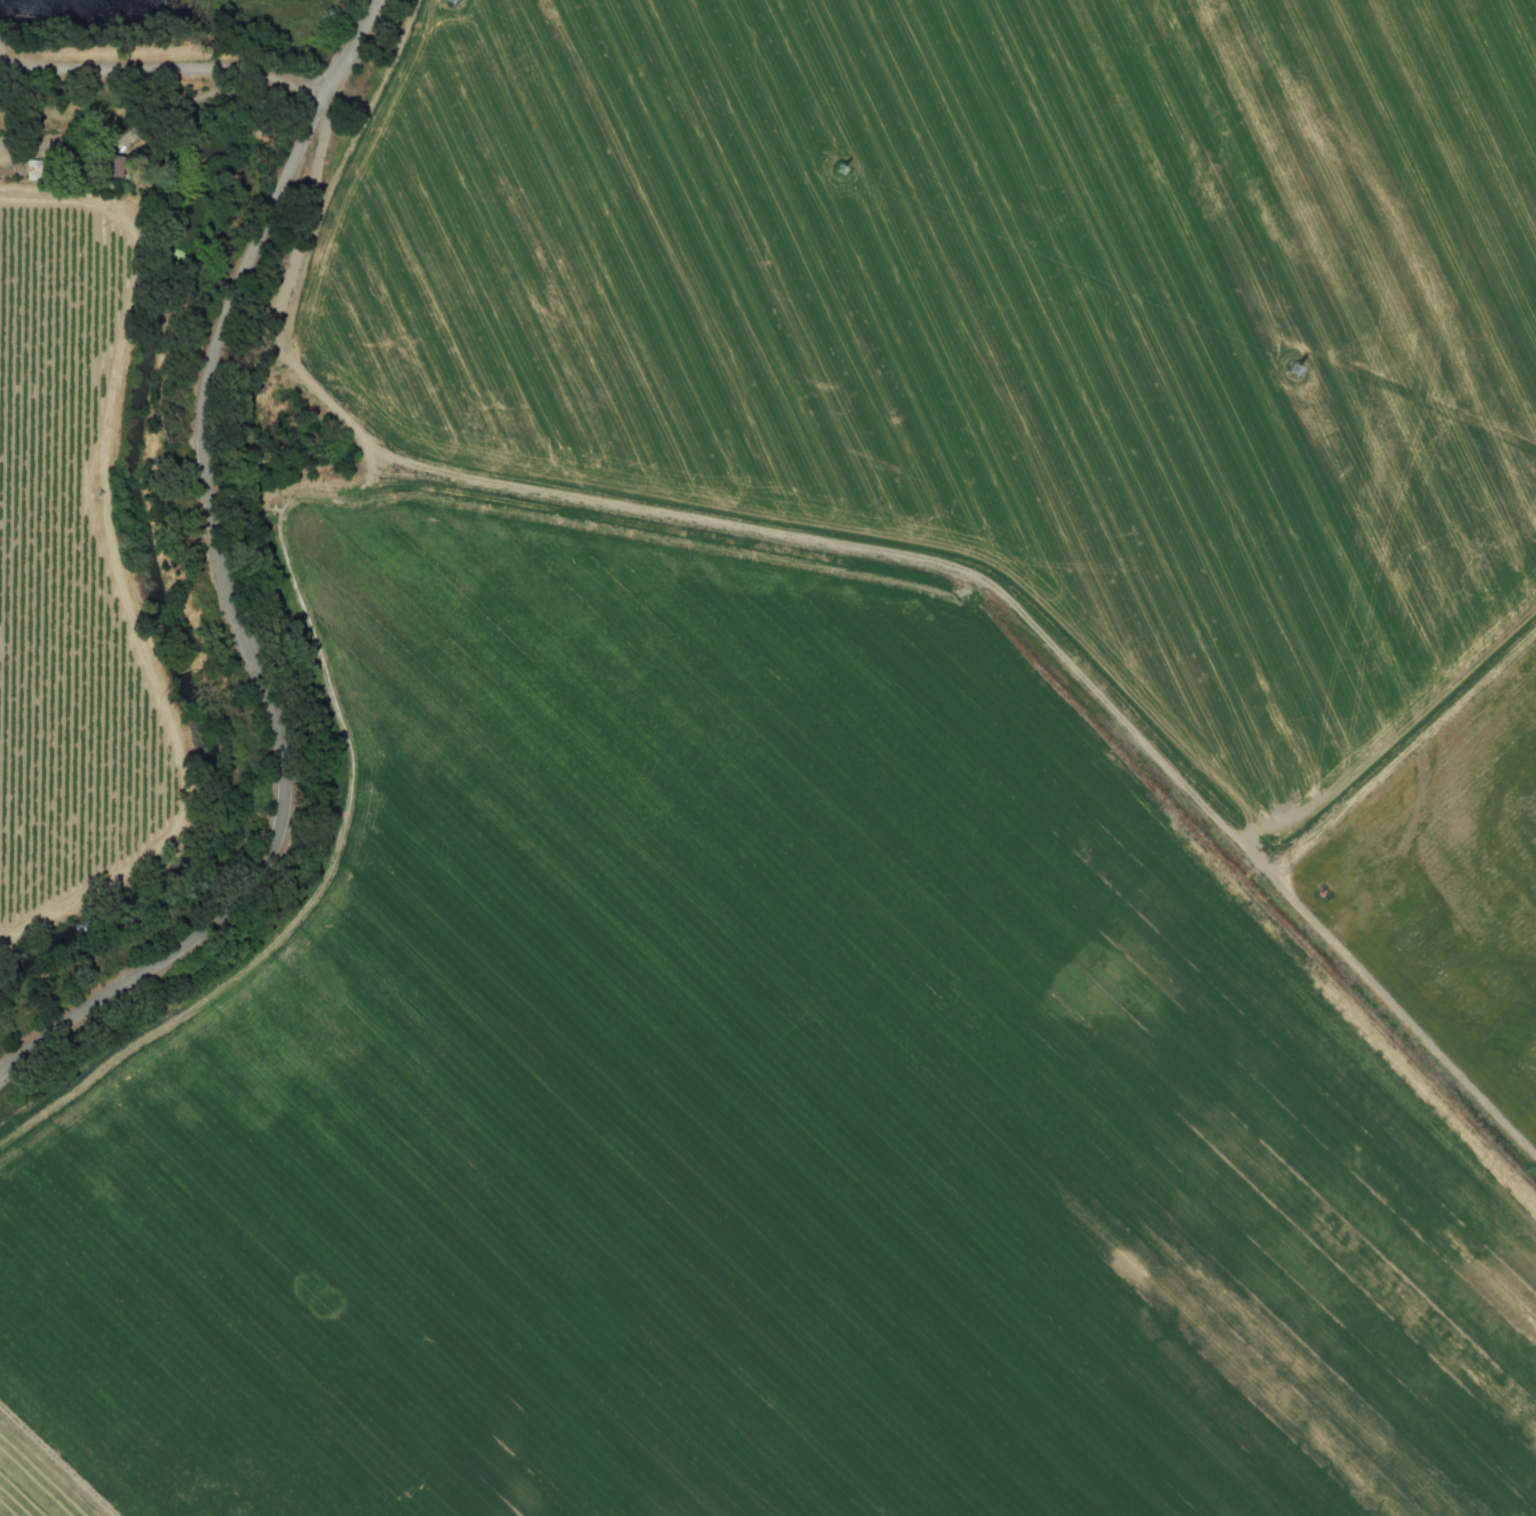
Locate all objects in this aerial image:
road: (158, 66)
power tower: (842, 173)
road: (287, 281)
power tower: (1279, 363)
road: (219, 586)

